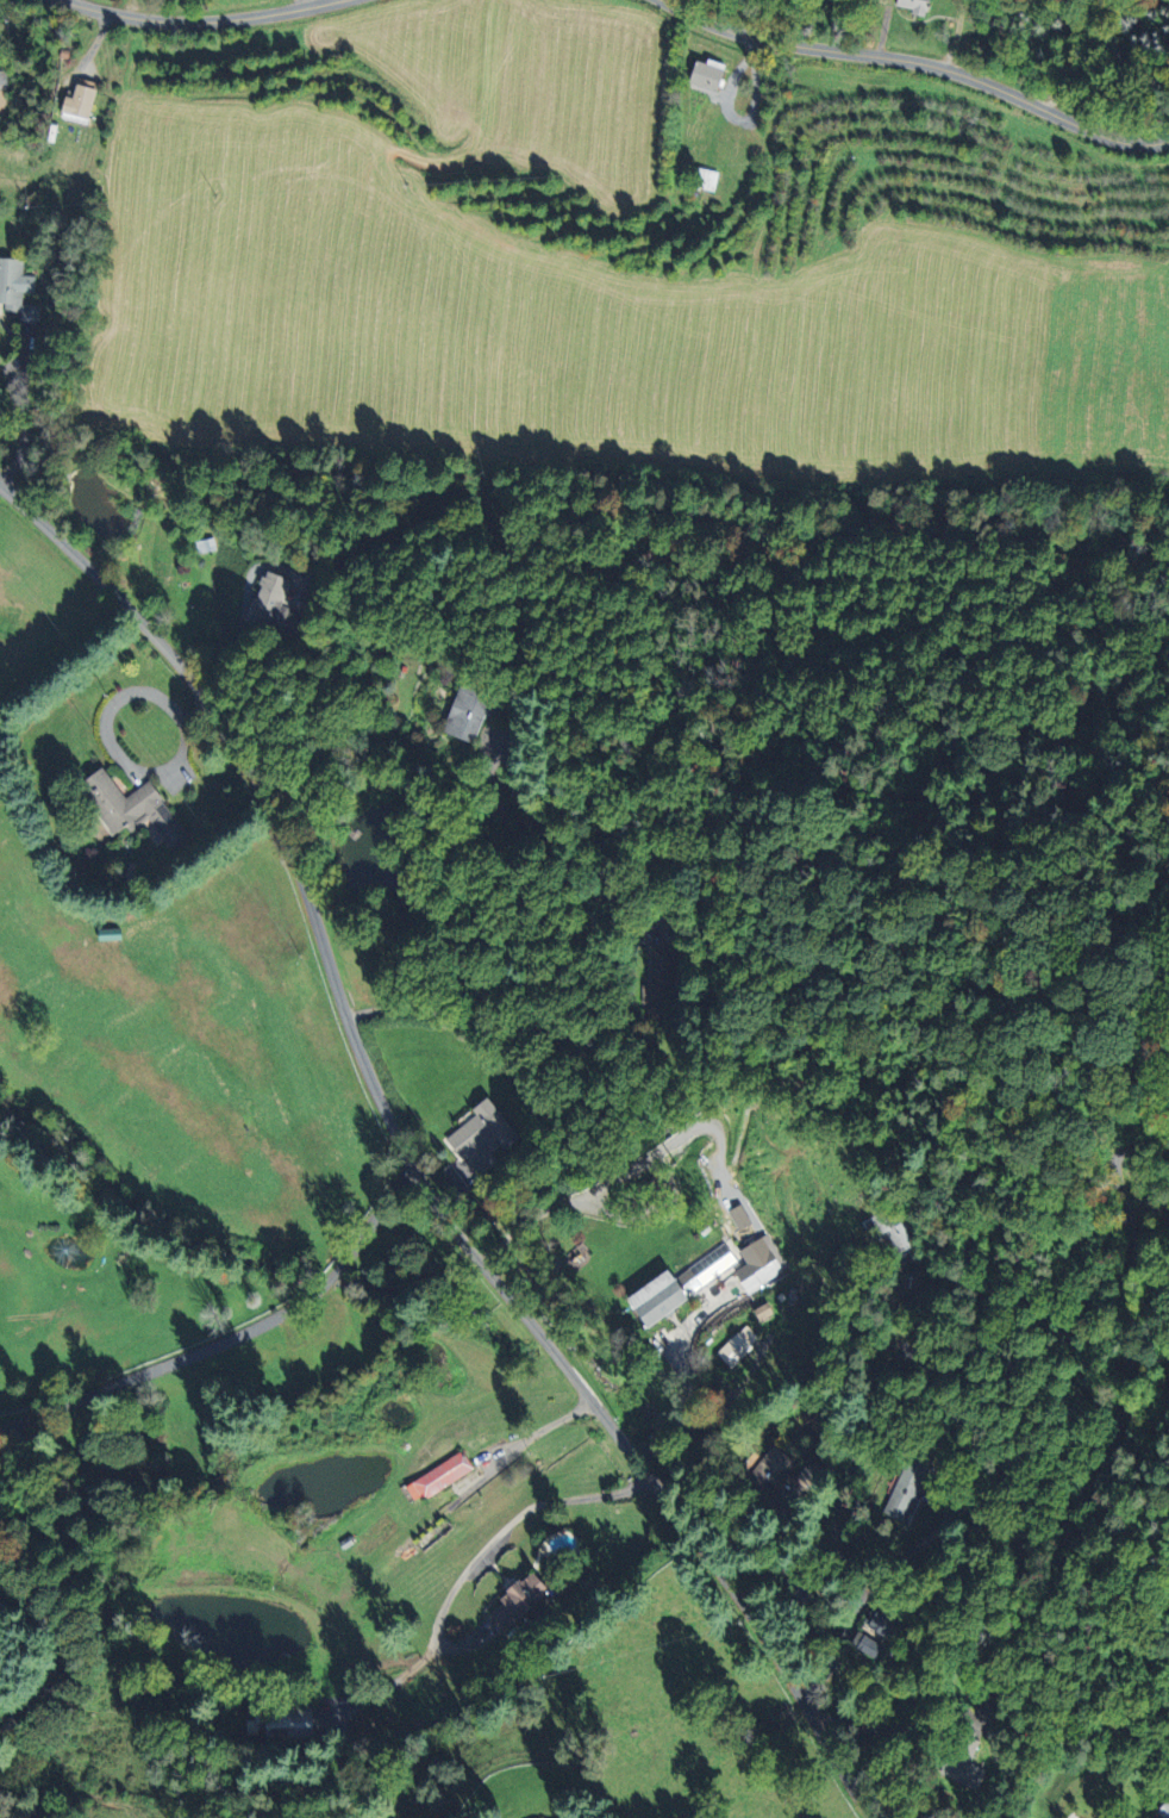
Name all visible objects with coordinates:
building: (911, 6)
road: (201, 19)
road: (1075, 57)
road: (920, 61)
road: (1113, 62)
building: (702, 74)
building: (1, 100)
building: (83, 101)
building: (704, 179)
building: (18, 289)
road: (24, 411)
building: (274, 602)
road: (244, 614)
building: (469, 712)
road: (121, 755)
building: (126, 805)
building: (658, 979)
road: (407, 1011)
road: (515, 1029)
building: (479, 1134)
road: (410, 1162)
building: (737, 1216)
building: (896, 1237)
building: (754, 1264)
building: (674, 1285)
building: (759, 1310)
road: (229, 1334)
building: (733, 1345)
road: (687, 1371)
road: (711, 1424)
road: (540, 1431)
road: (1096, 1468)
building: (767, 1473)
building: (813, 1474)
building: (436, 1477)
road: (843, 1488)
building: (905, 1488)
road: (496, 1533)
road: (33, 1601)
building: (512, 1601)
building: (881, 1619)
building: (989, 1706)
road: (834, 1720)
building: (287, 1722)
road: (923, 1722)
road: (864, 1726)
road: (468, 1730)
building: (962, 1763)
building: (1163, 1808)

